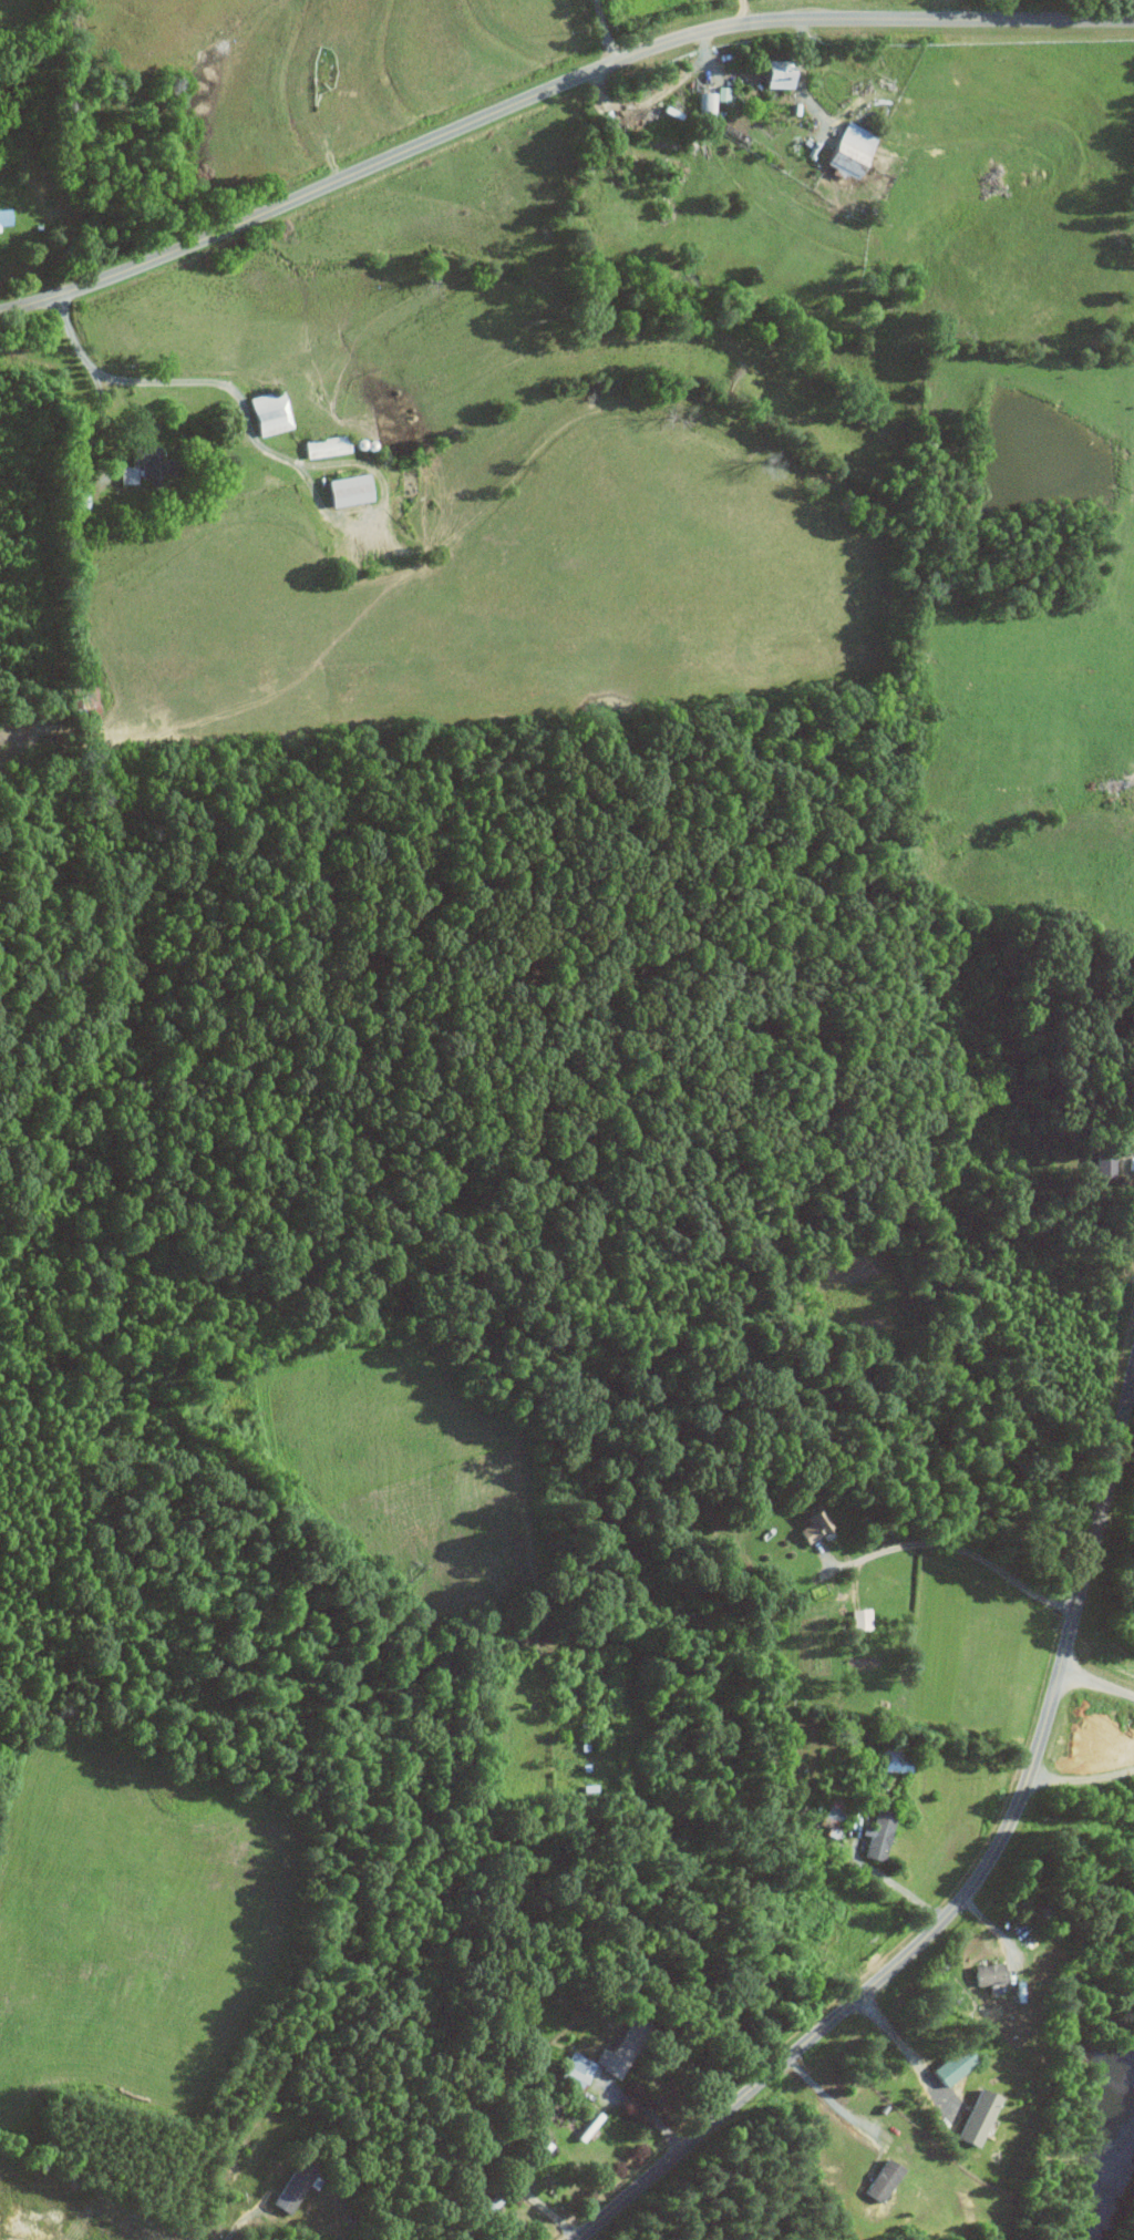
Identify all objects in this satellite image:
road: (605, 30)
road: (801, 72)
building: (774, 73)
road: (550, 86)
building: (722, 93)
building: (704, 103)
building: (847, 148)
building: (48, 206)
building: (3, 216)
building: (267, 412)
road: (99, 429)
road: (256, 439)
building: (323, 445)
building: (141, 465)
building: (344, 490)
building: (75, 501)
building: (1102, 1162)
road: (1128, 1164)
building: (812, 1524)
road: (956, 1547)
building: (859, 1617)
road: (1096, 1682)
building: (889, 1759)
road: (1081, 1776)
building: (828, 1817)
building: (875, 1833)
road: (893, 1881)
road: (971, 1884)
road: (997, 1935)
building: (987, 1973)
road: (895, 2035)
building: (610, 2057)
building: (950, 2065)
building: (574, 2069)
road: (827, 2095)
road: (640, 2108)
building: (976, 2117)
building: (880, 2179)
road: (508, 2185)
building: (290, 2188)
road: (237, 2223)

